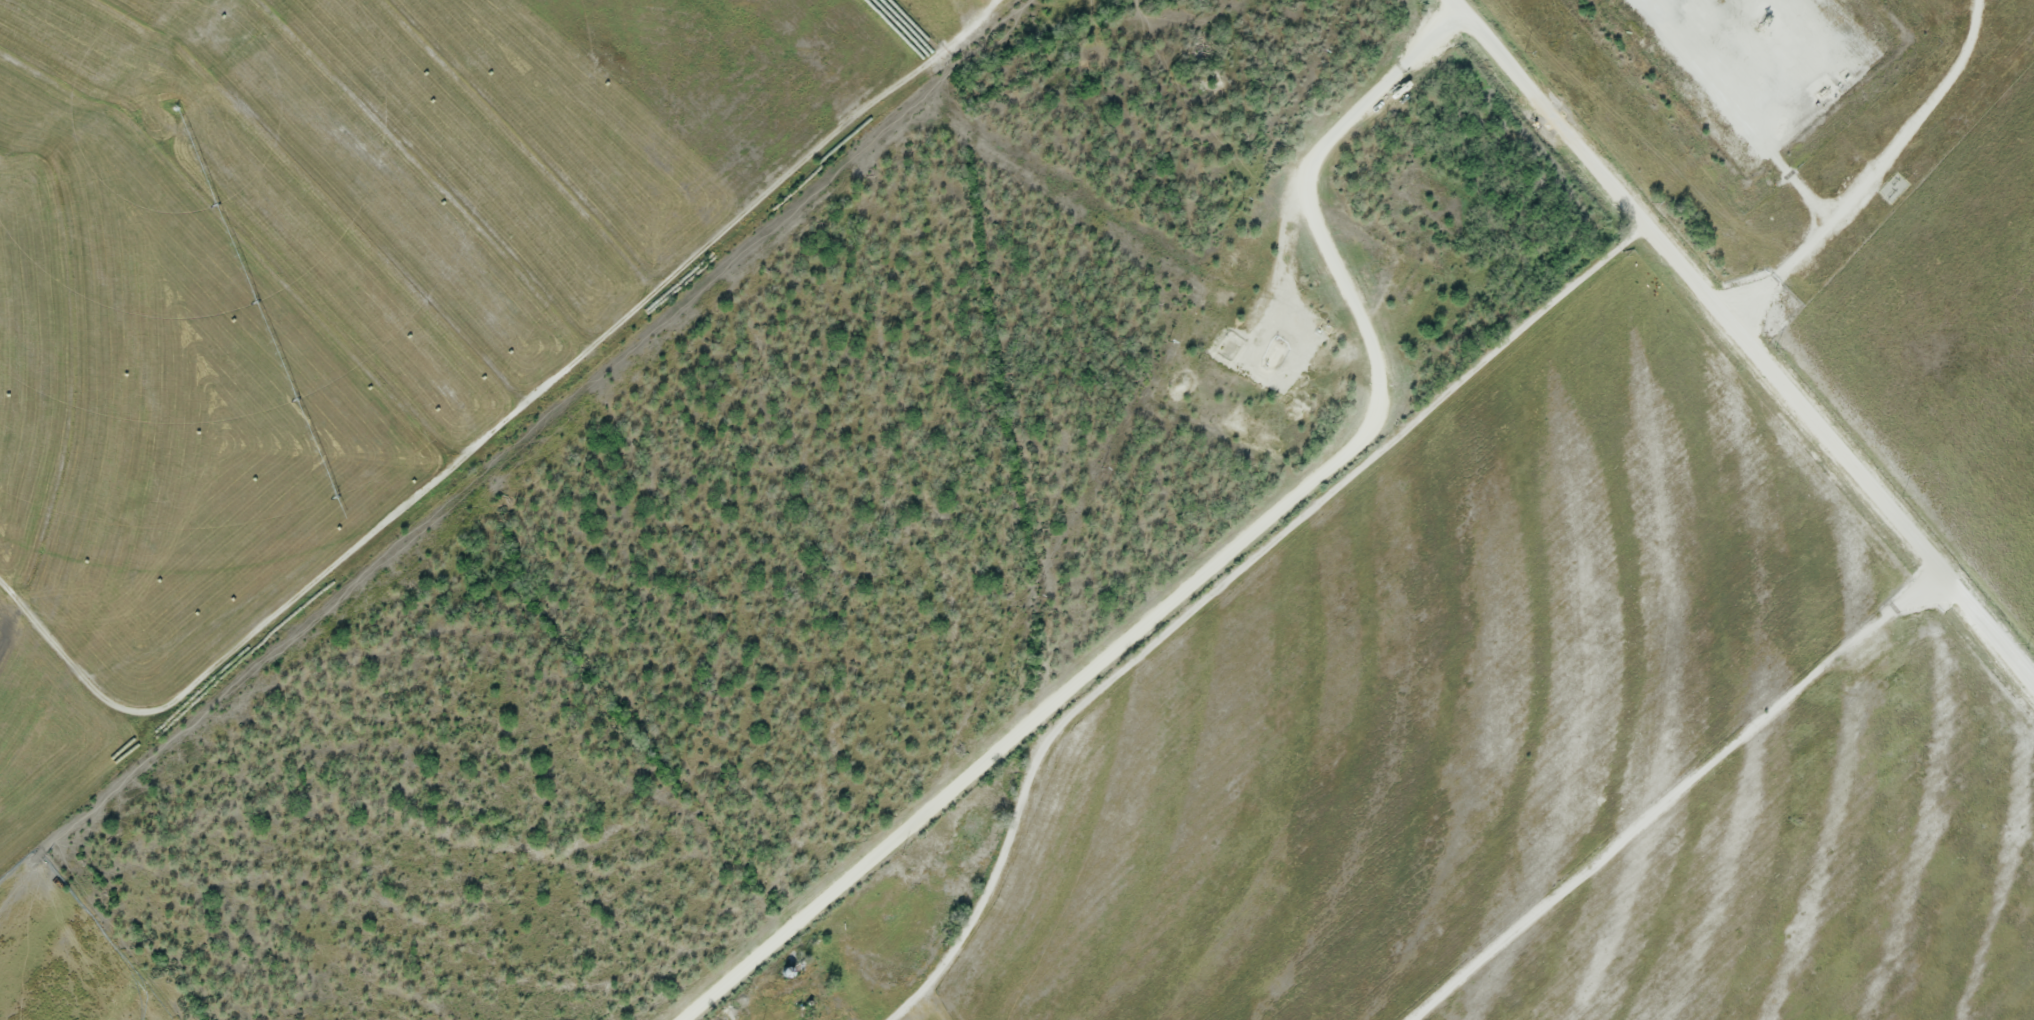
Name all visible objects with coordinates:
road: (1739, 110)
road: (1307, 163)
road: (1871, 165)
road: (1747, 335)
road: (1223, 582)
road: (1120, 637)
road: (1686, 797)
road: (244, 1013)

